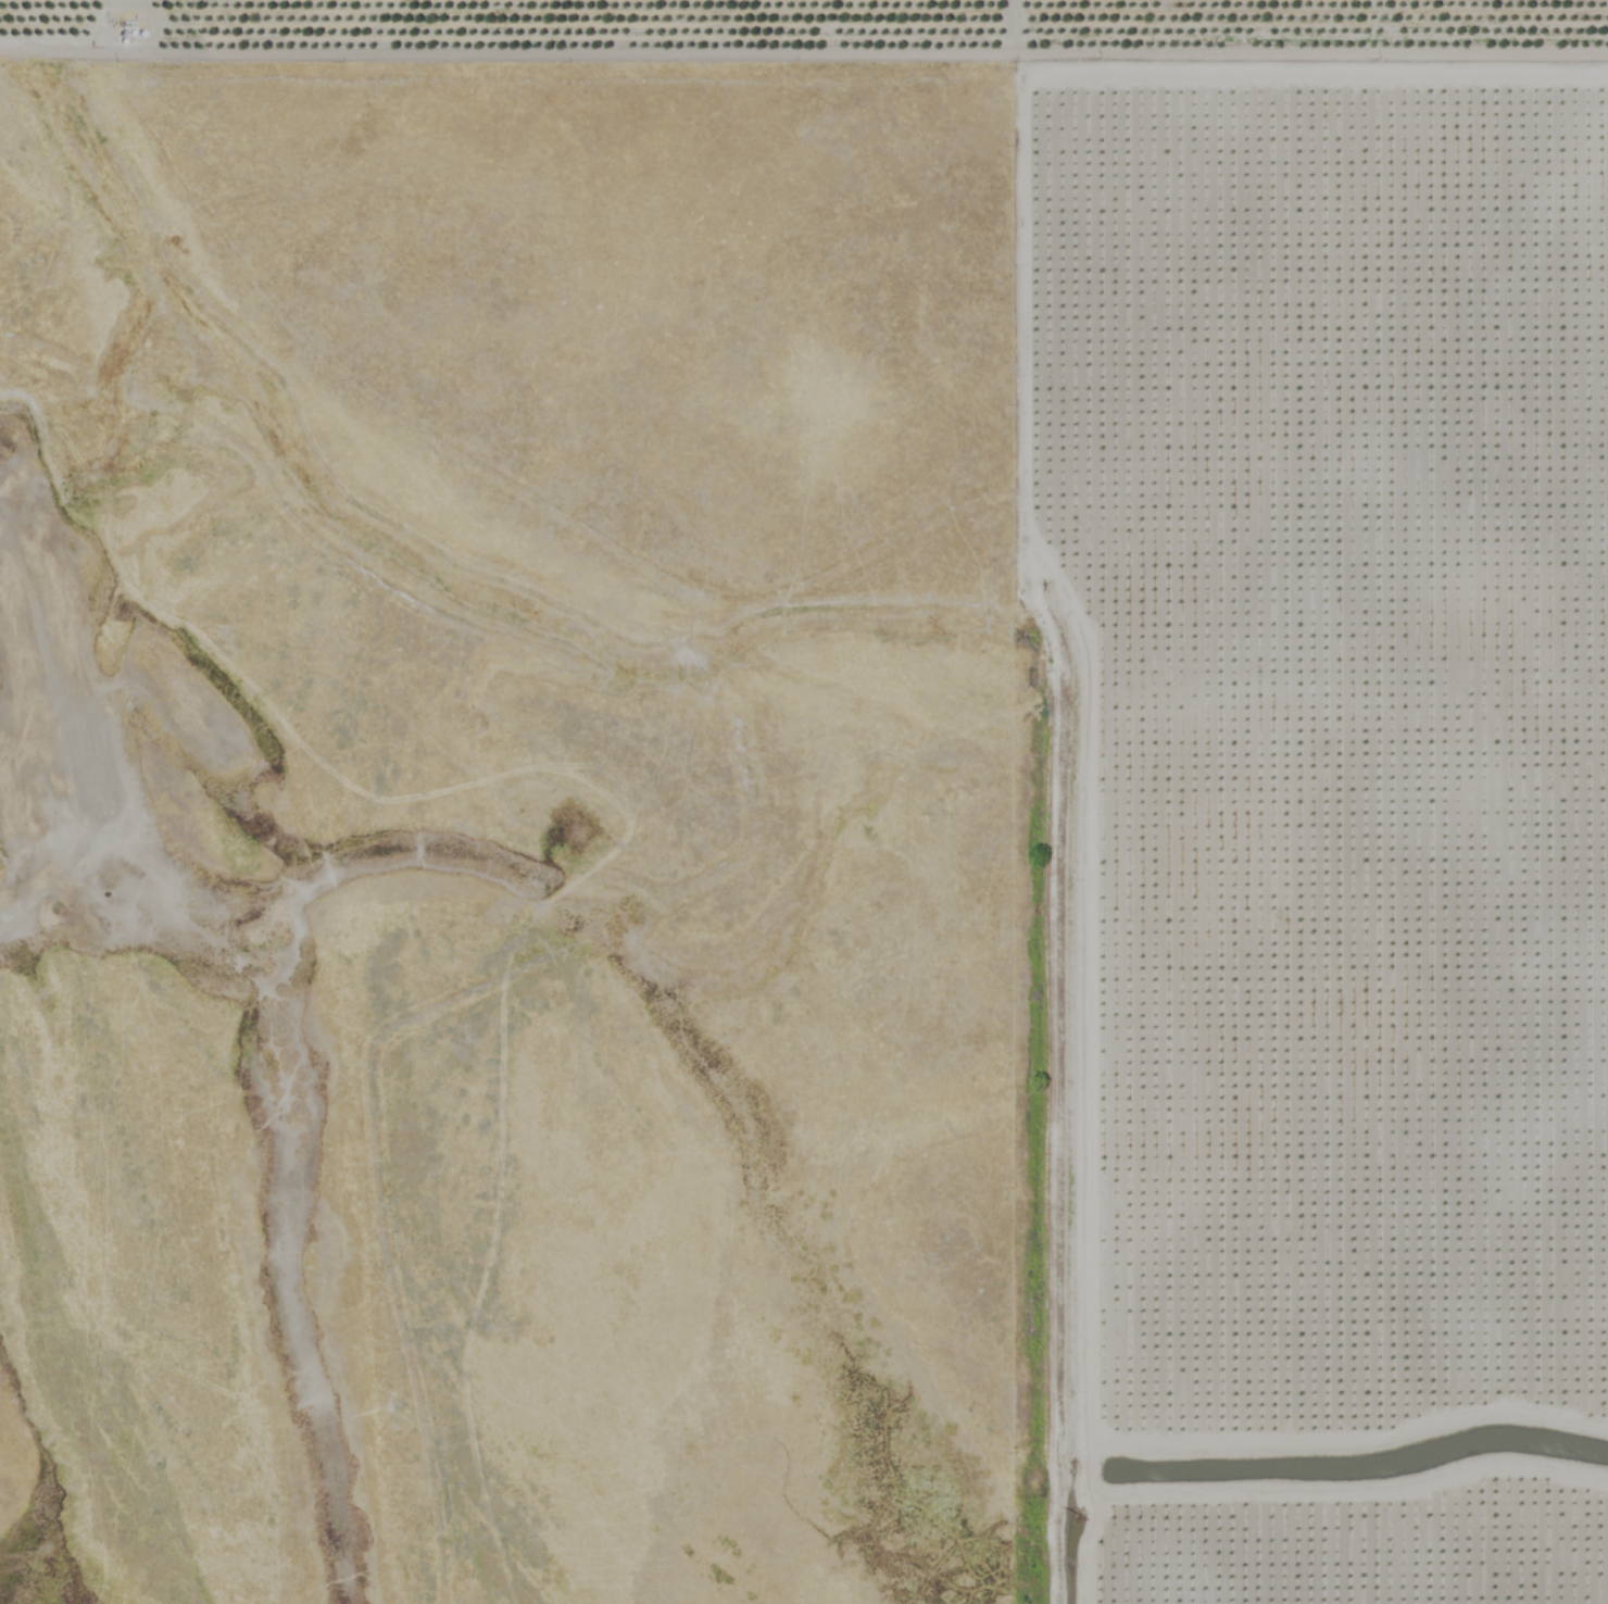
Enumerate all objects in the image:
crop: (1297, 732)
road: (1193, 1316)

